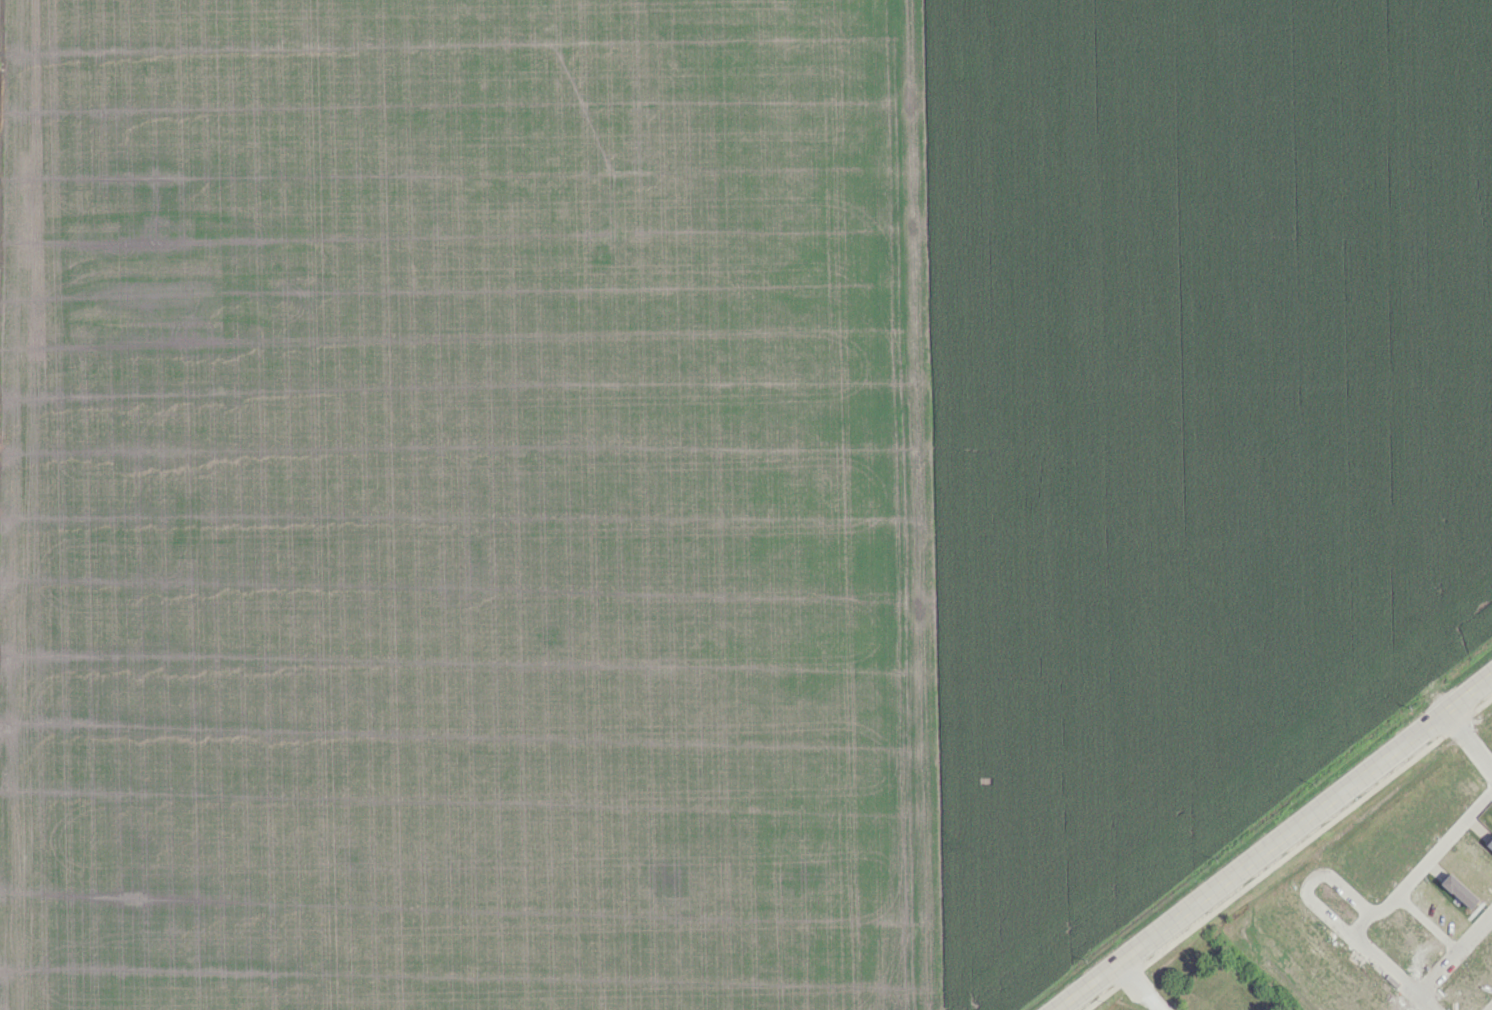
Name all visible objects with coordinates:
road: (1468, 741)
road: (1274, 841)
building: (1489, 844)
road: (1287, 851)
road: (1423, 866)
road: (1310, 879)
road: (1429, 925)
road: (1456, 960)
road: (1384, 967)
road: (1138, 987)
building: (1227, 999)
road: (1425, 1005)
road: (1487, 1005)

